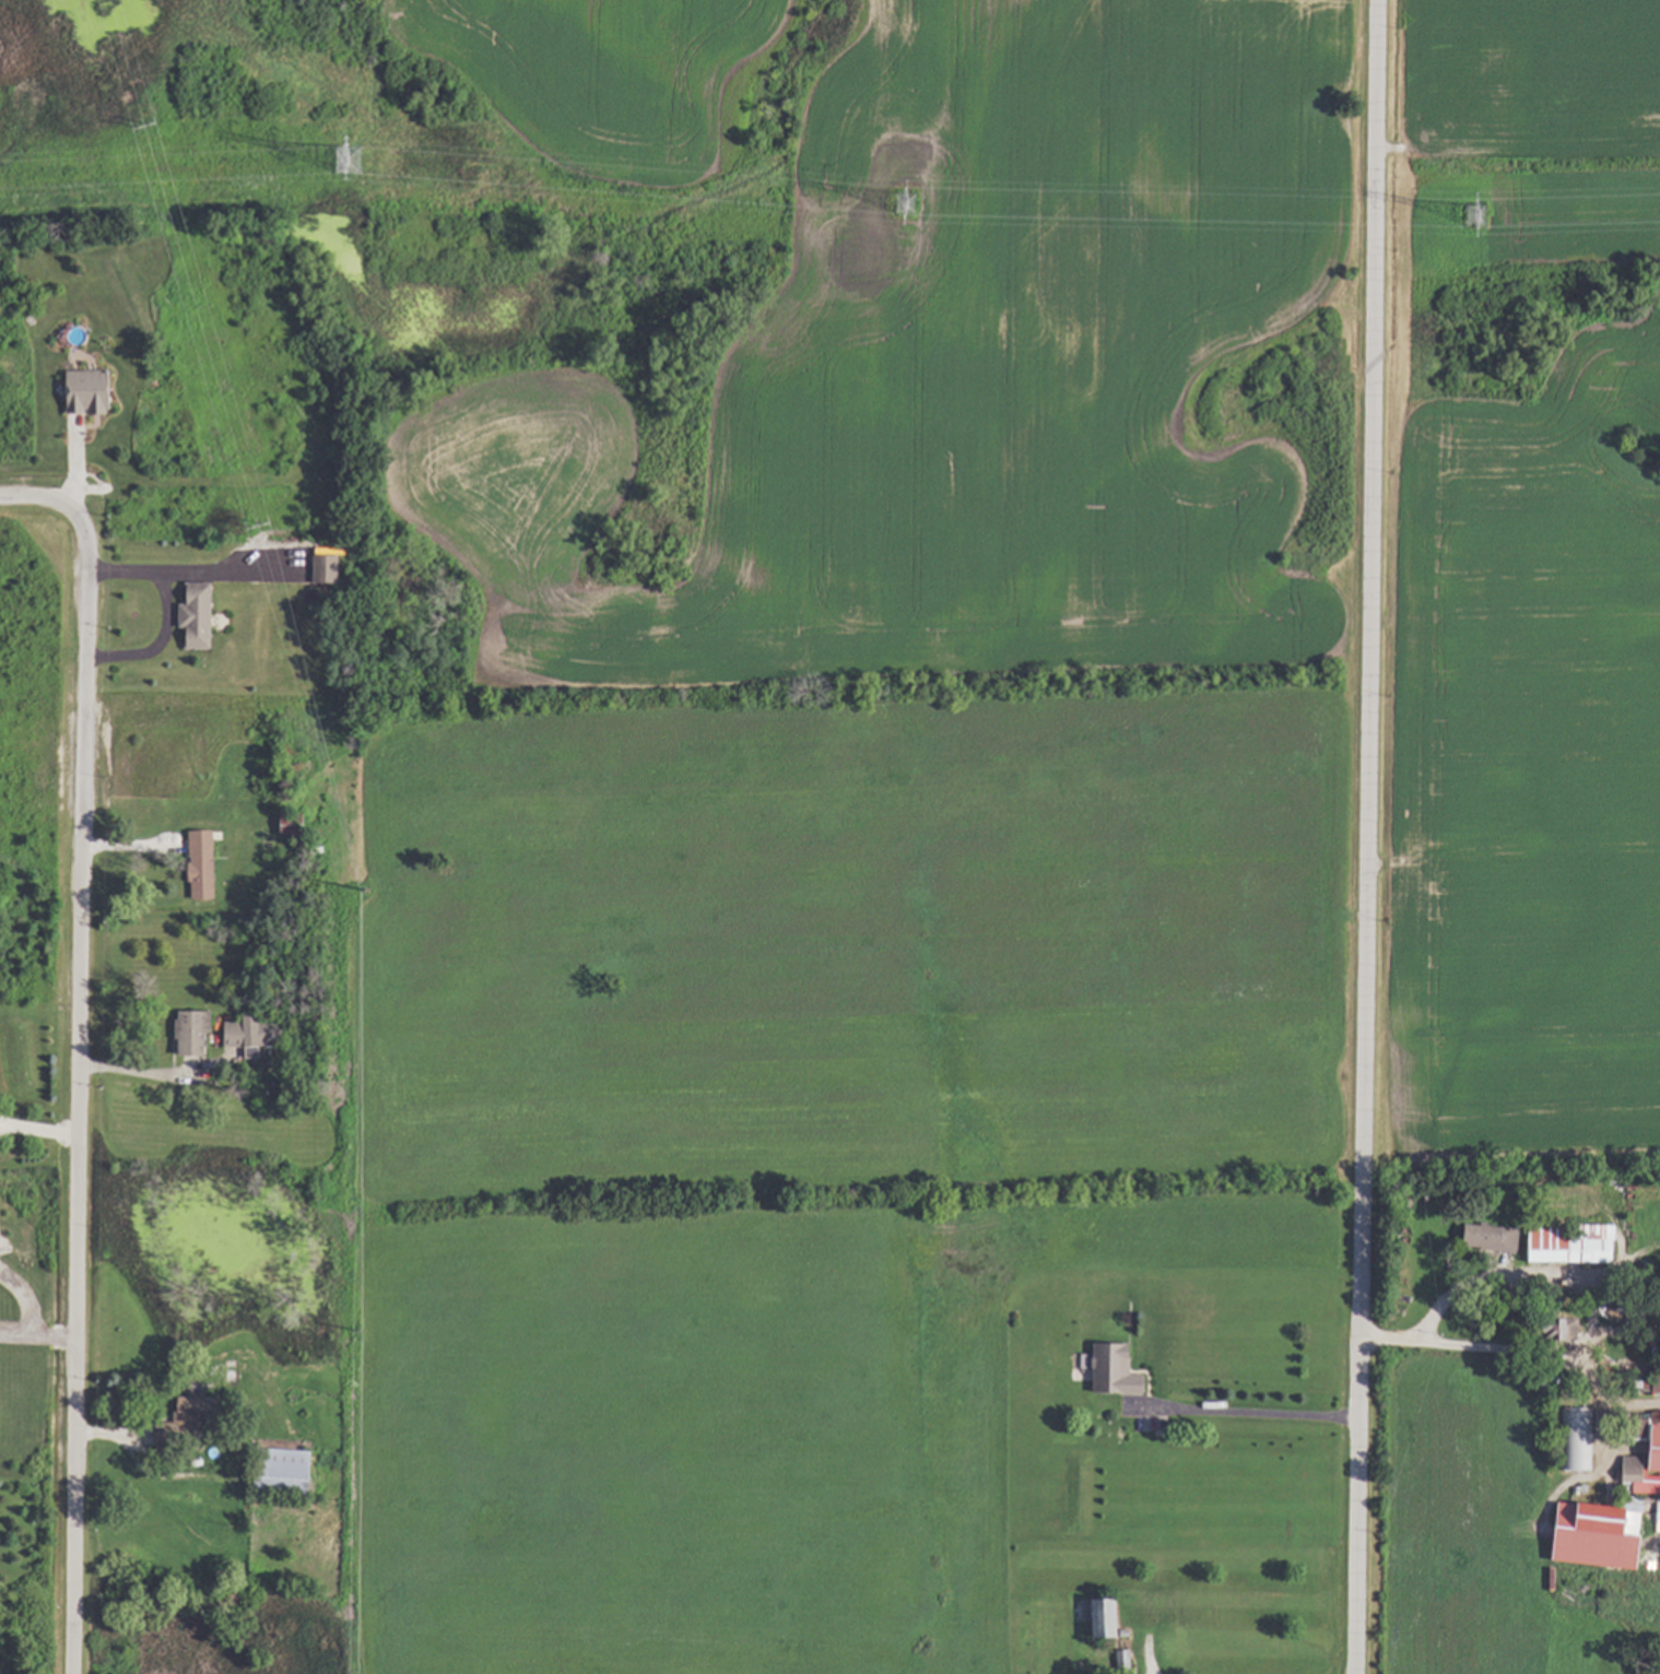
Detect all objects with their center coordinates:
power tower: (334, 174)
power tower: (888, 219)
power tower: (1462, 231)
landfill: (790, 322)
building: (89, 393)
road: (36, 490)
building: (327, 570)
crop: (1526, 585)
road: (166, 615)
building: (197, 617)
landfill: (36, 755)
building: (291, 825)
road: (1365, 836)
building: (201, 865)
building: (256, 1034)
building: (193, 1036)
road: (134, 1072)
road: (75, 1088)
road: (37, 1131)
crop: (804, 1146)
building: (1482, 1236)
building: (1565, 1242)
building: (1555, 1328)
road: (1455, 1347)
building: (1107, 1369)
road: (1245, 1414)
building: (190, 1424)
building: (1574, 1438)
building: (1640, 1462)
building: (284, 1475)
building: (1094, 1615)
building: (1118, 1658)

